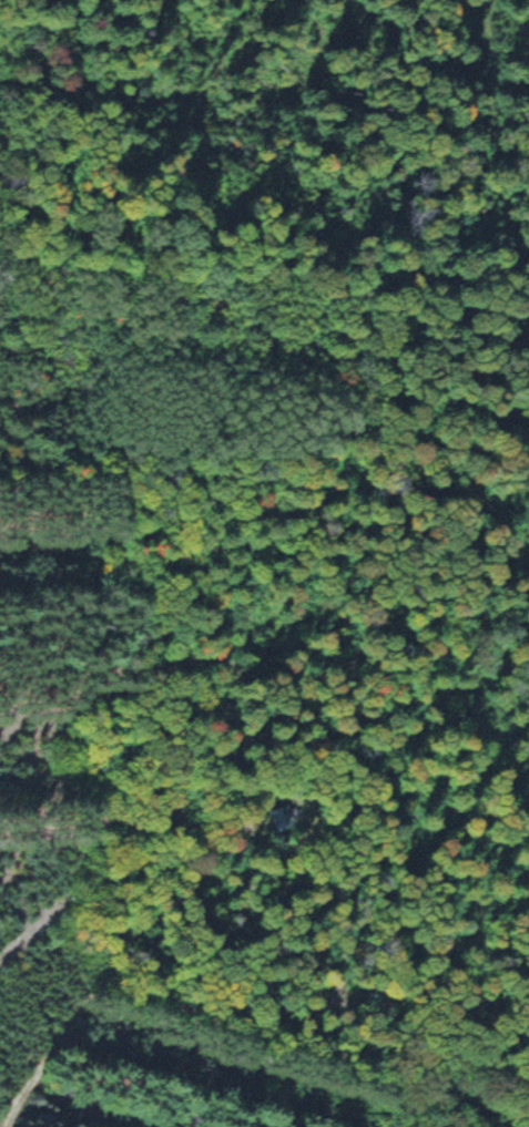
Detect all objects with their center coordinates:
road: (91, 792)

